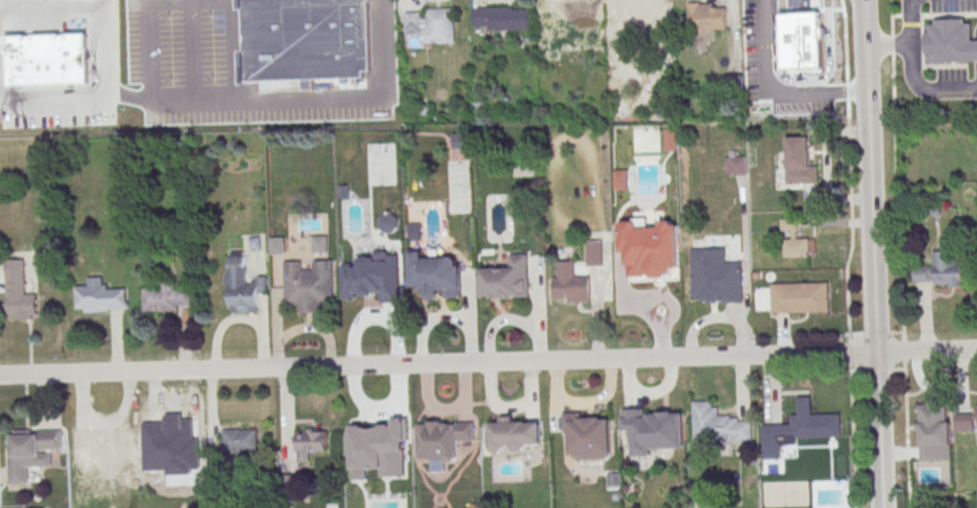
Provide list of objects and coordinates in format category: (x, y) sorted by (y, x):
road: (55, 7)
building: (779, 11)
building: (708, 16)
building: (502, 17)
building: (641, 17)
road: (911, 21)
building: (573, 23)
building: (434, 24)
building: (292, 26)
building: (161, 30)
road: (230, 32)
building: (20, 34)
building: (91, 34)
building: (367, 34)
building: (225, 36)
building: (952, 39)
road: (889, 43)
road: (191, 51)
road: (926, 86)
road: (127, 95)
road: (239, 98)
road: (100, 102)
building: (459, 139)
building: (800, 161)
building: (736, 165)
building: (794, 240)
building: (658, 241)
building: (593, 253)
road: (850, 253)
road: (872, 254)
road: (900, 254)
building: (943, 269)
building: (437, 273)
building: (373, 275)
building: (715, 275)
building: (506, 278)
building: (570, 282)
building: (309, 284)
building: (242, 286)
building: (19, 292)
building: (100, 296)
building: (166, 296)
building: (800, 297)
road: (488, 362)
building: (965, 421)
building: (718, 425)
building: (654, 428)
building: (936, 430)
building: (513, 431)
building: (800, 432)
building: (589, 434)
building: (443, 437)
building: (240, 440)
building: (310, 443)
building: (174, 444)
building: (99, 445)
building: (379, 447)
building: (30, 451)

